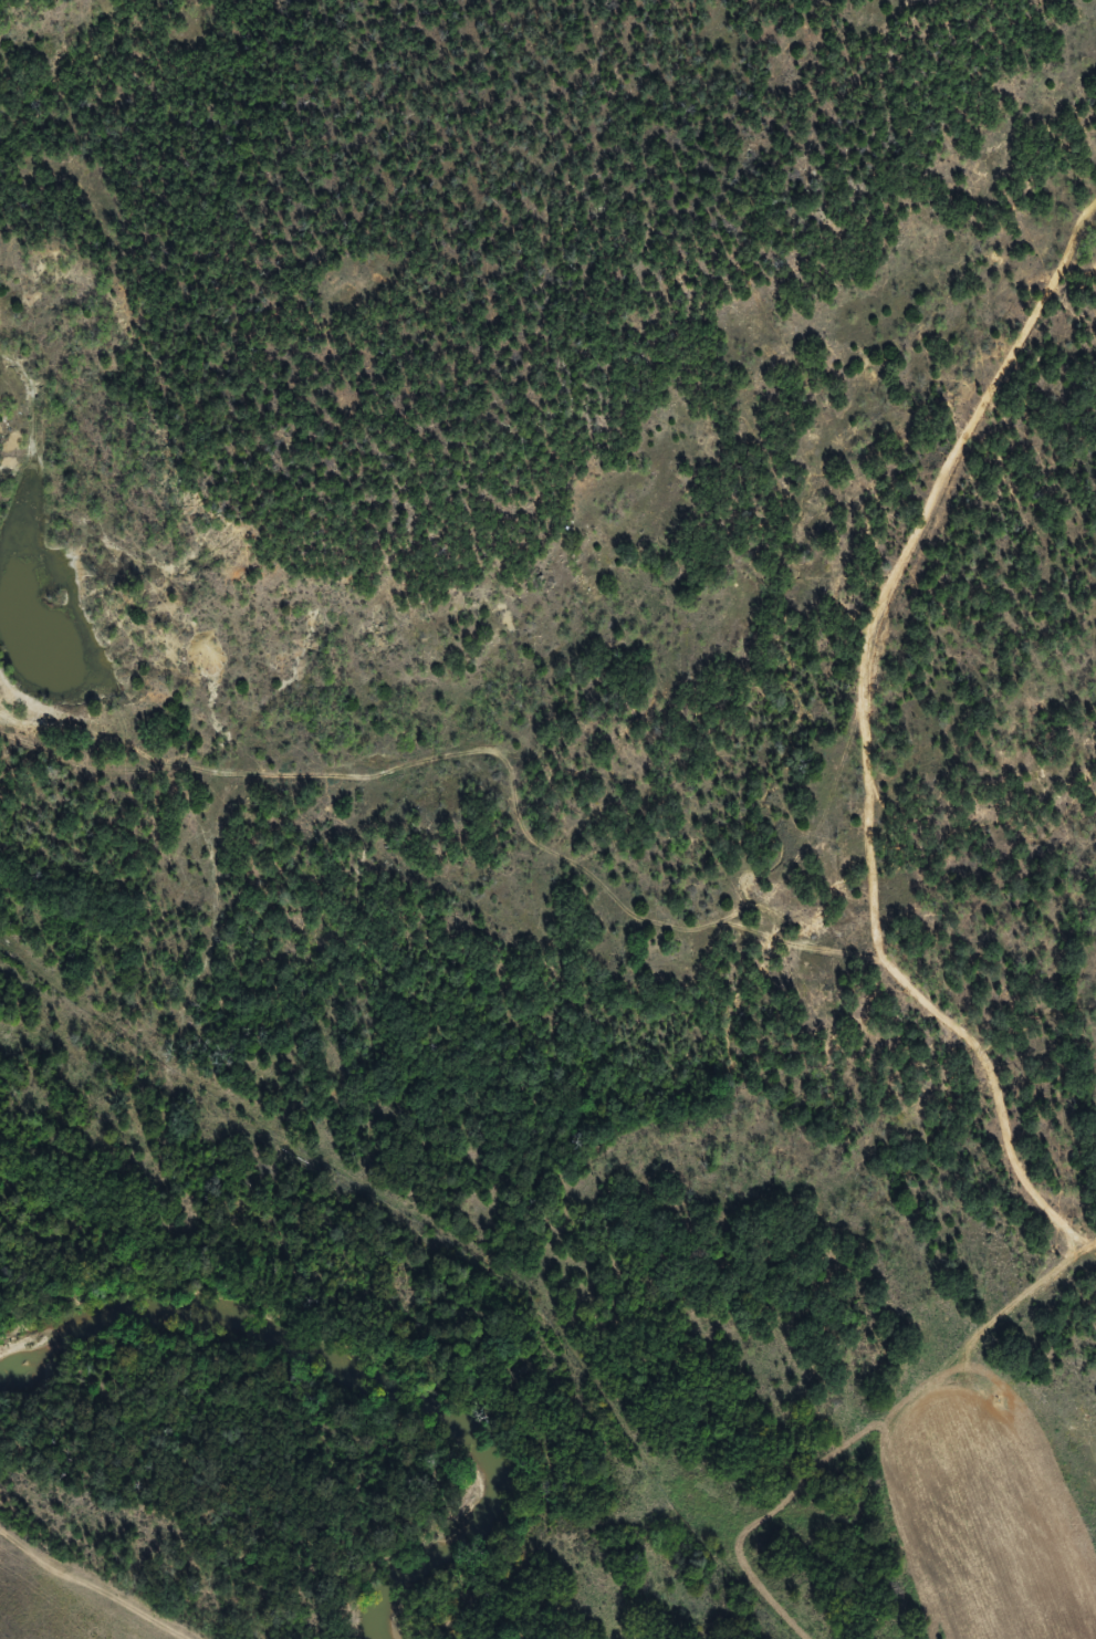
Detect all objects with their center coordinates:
road: (865, 734)
road: (474, 774)
road: (737, 879)
river: (373, 1360)

